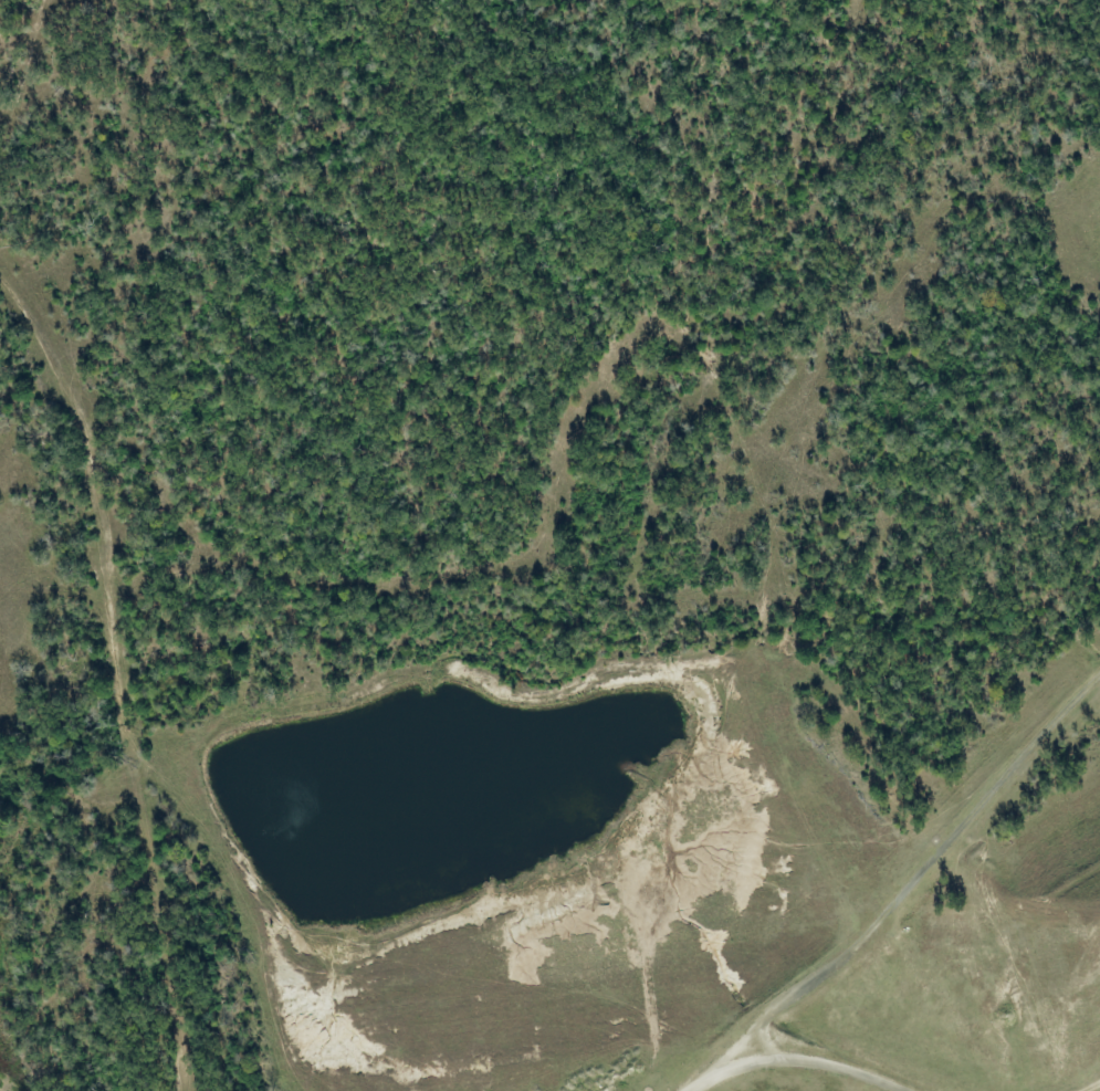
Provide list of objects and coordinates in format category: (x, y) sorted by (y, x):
road: (793, 1062)

